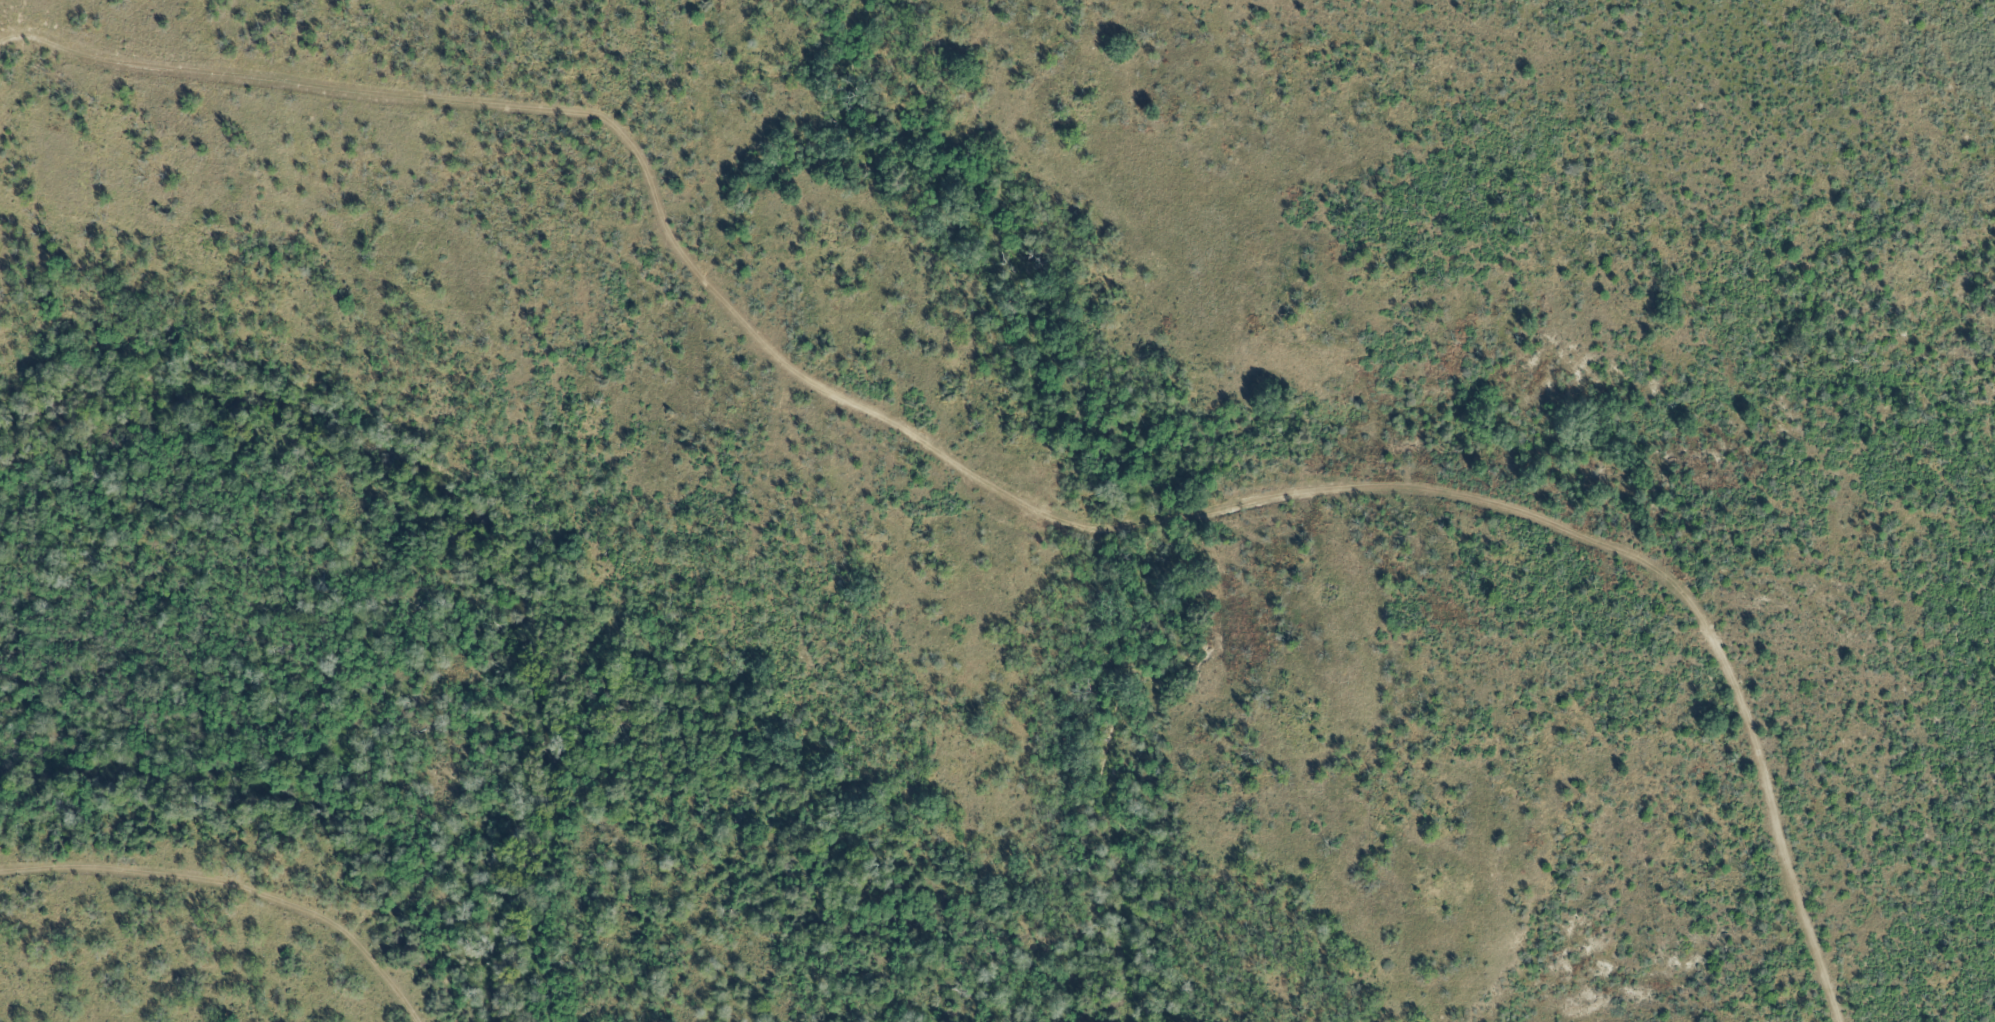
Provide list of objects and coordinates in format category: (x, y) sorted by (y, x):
river: (474, 533)

